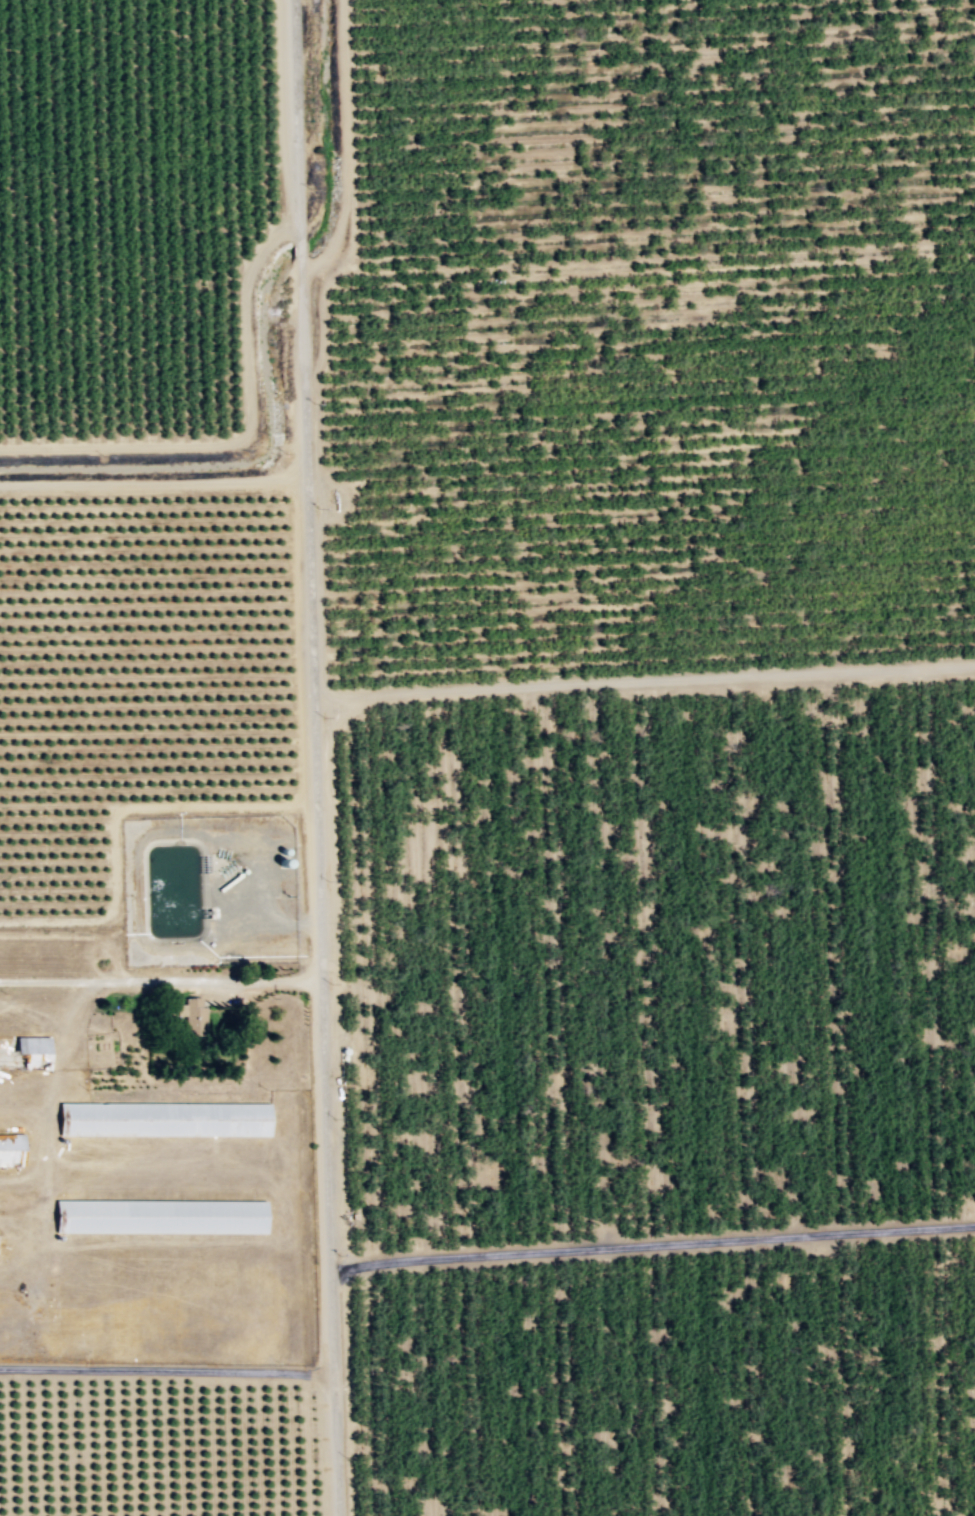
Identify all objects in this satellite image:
road: (347, 160)
road: (238, 437)
road: (152, 485)
road: (642, 683)
road: (312, 758)
road: (116, 822)
road: (265, 922)
road: (159, 979)
building: (196, 1017)
building: (34, 1053)
building: (166, 1119)
building: (12, 1150)
building: (161, 1216)
road: (652, 1246)
road: (165, 1370)

